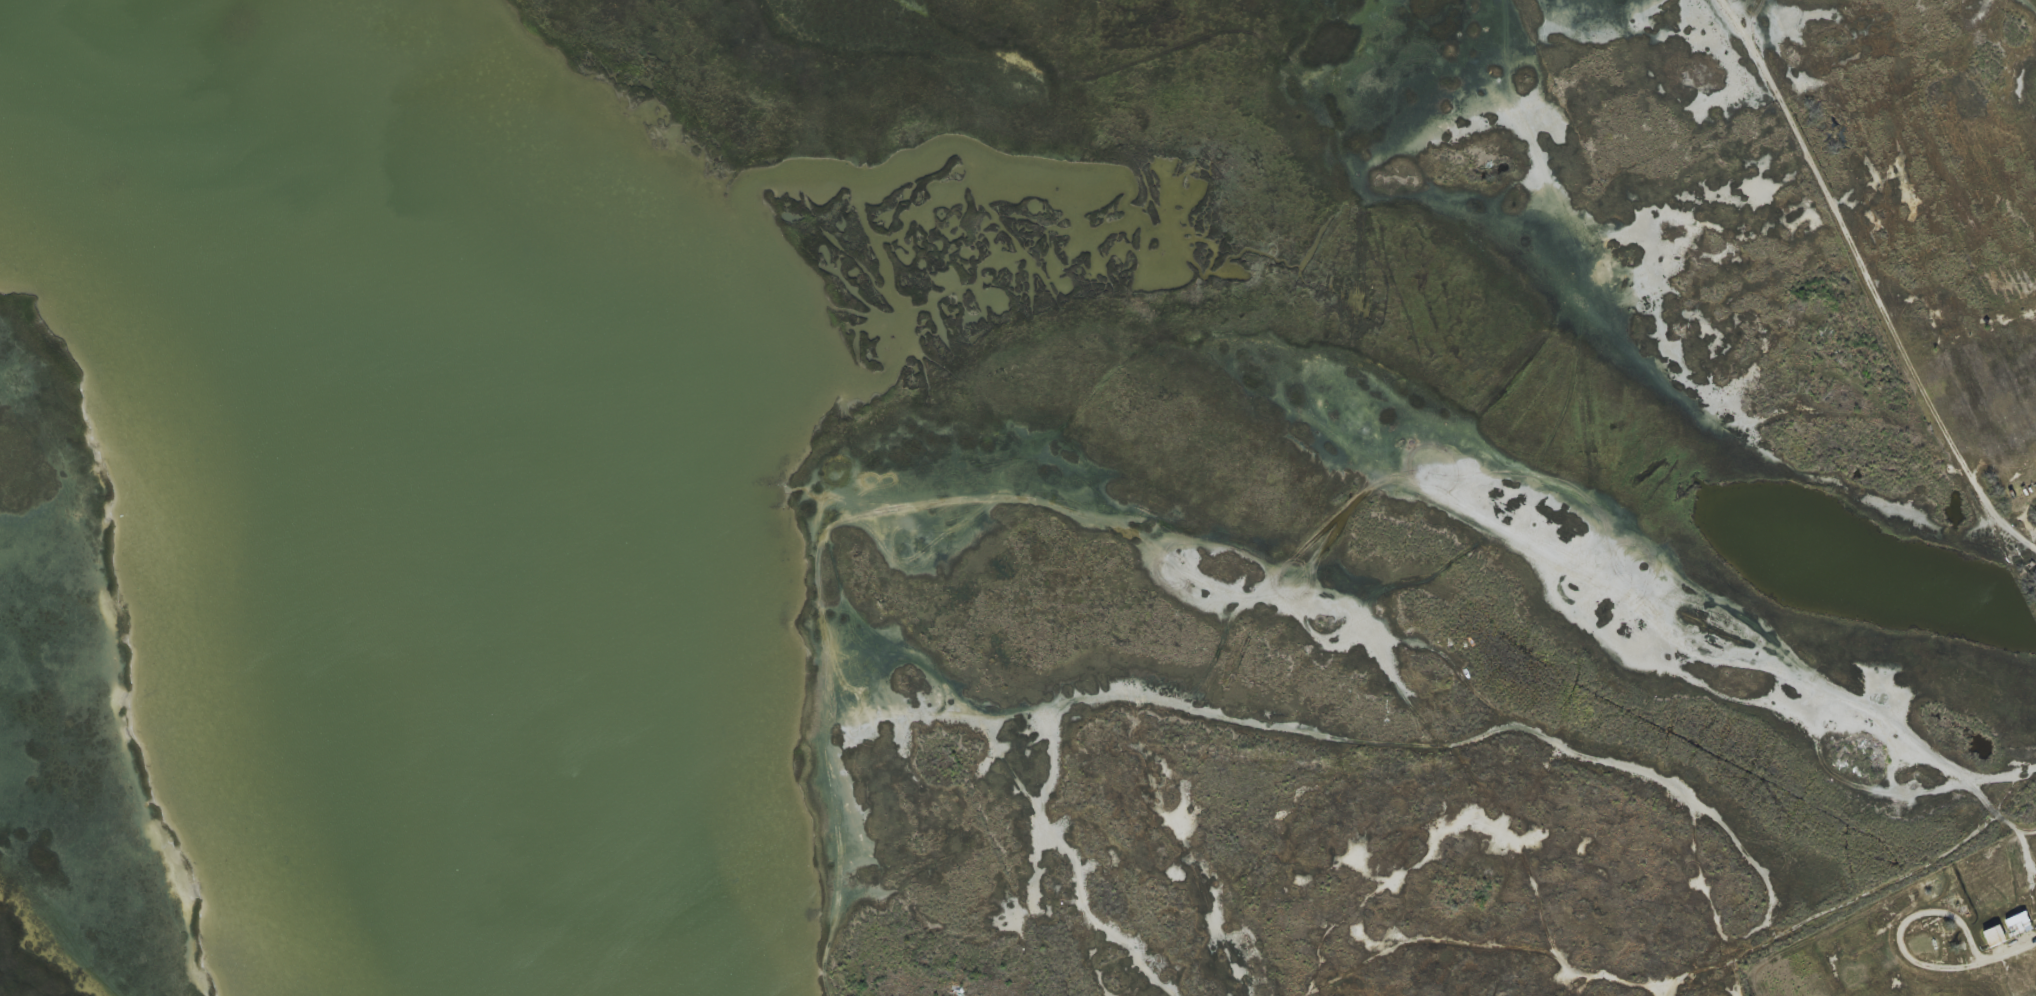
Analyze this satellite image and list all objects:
road: (2022, 539)
building: (1993, 936)
road: (1912, 945)
road: (2010, 951)

